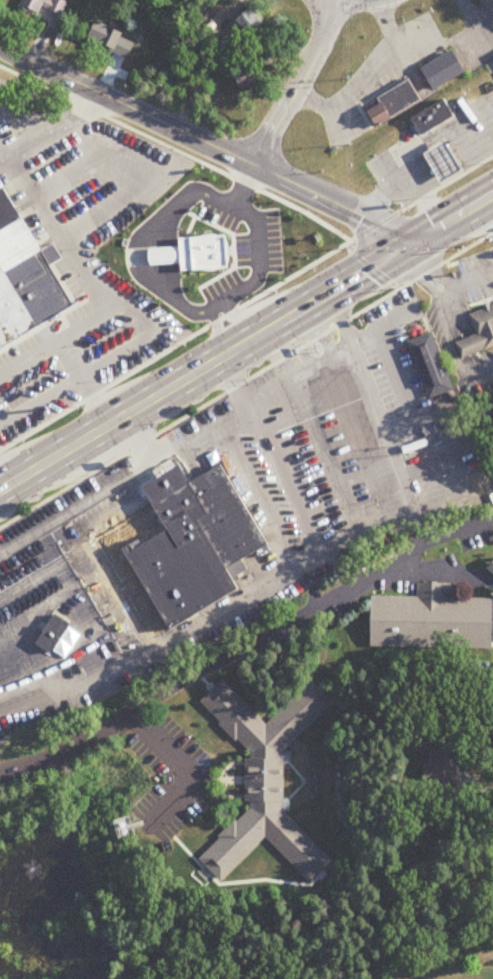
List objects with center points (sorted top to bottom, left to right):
road: (349, 3)
building: (43, 6)
building: (249, 23)
road: (448, 43)
building: (444, 71)
road: (365, 76)
building: (250, 80)
road: (298, 84)
building: (395, 104)
building: (431, 118)
road: (52, 127)
road: (205, 142)
road: (175, 151)
building: (443, 161)
road: (144, 178)
road: (241, 183)
road: (441, 223)
road: (256, 239)
traffic signals: (406, 245)
building: (195, 256)
road: (447, 257)
road: (369, 267)
road: (422, 267)
road: (146, 272)
building: (24, 279)
road: (464, 282)
road: (98, 290)
road: (246, 302)
road: (217, 307)
road: (390, 319)
road: (236, 320)
building: (478, 333)
road: (453, 348)
building: (429, 366)
road: (194, 372)
building: (15, 393)
road: (201, 405)
building: (346, 416)
road: (375, 418)
road: (204, 434)
road: (275, 448)
road: (149, 453)
building: (302, 484)
road: (1, 485)
road: (61, 516)
building: (193, 544)
road: (47, 569)
road: (492, 570)
road: (445, 574)
road: (123, 603)
road: (307, 610)
road: (219, 613)
building: (433, 621)
building: (54, 633)
road: (128, 718)
building: (443, 773)
building: (264, 782)

